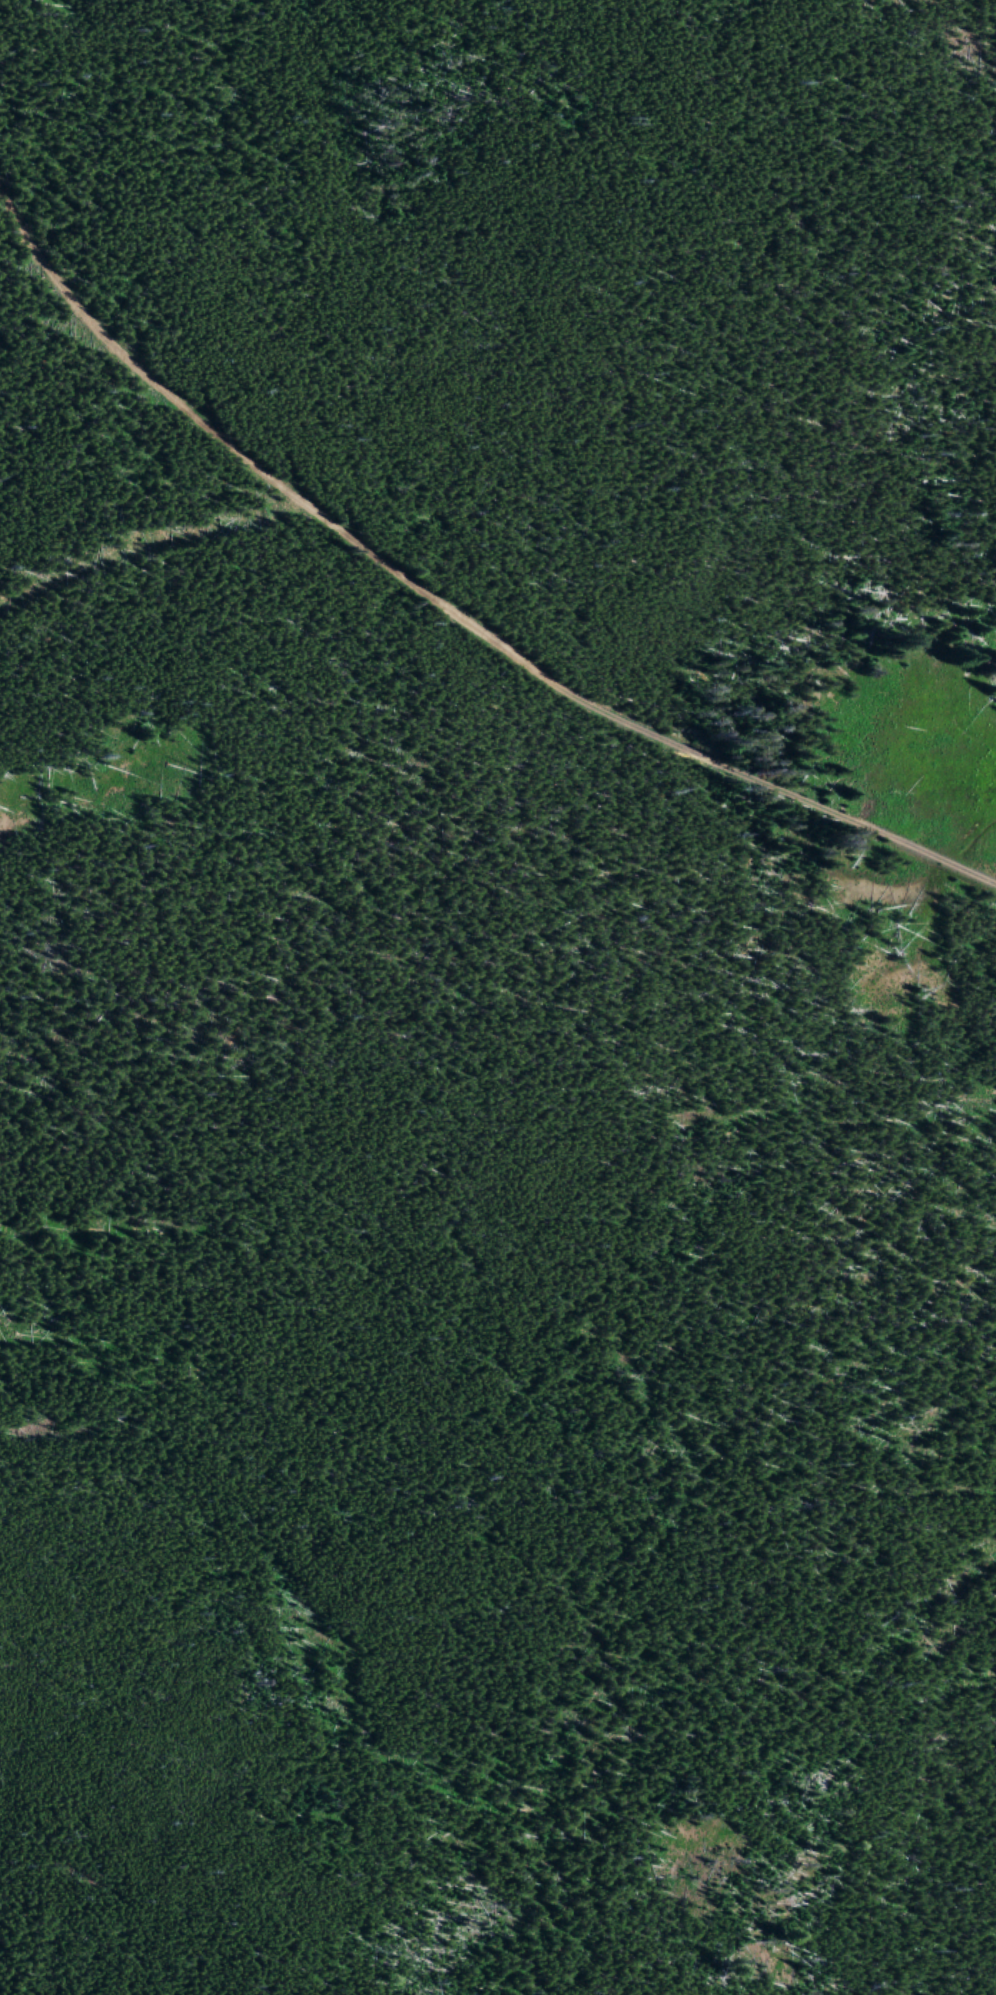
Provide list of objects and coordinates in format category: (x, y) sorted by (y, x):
road: (446, 619)

